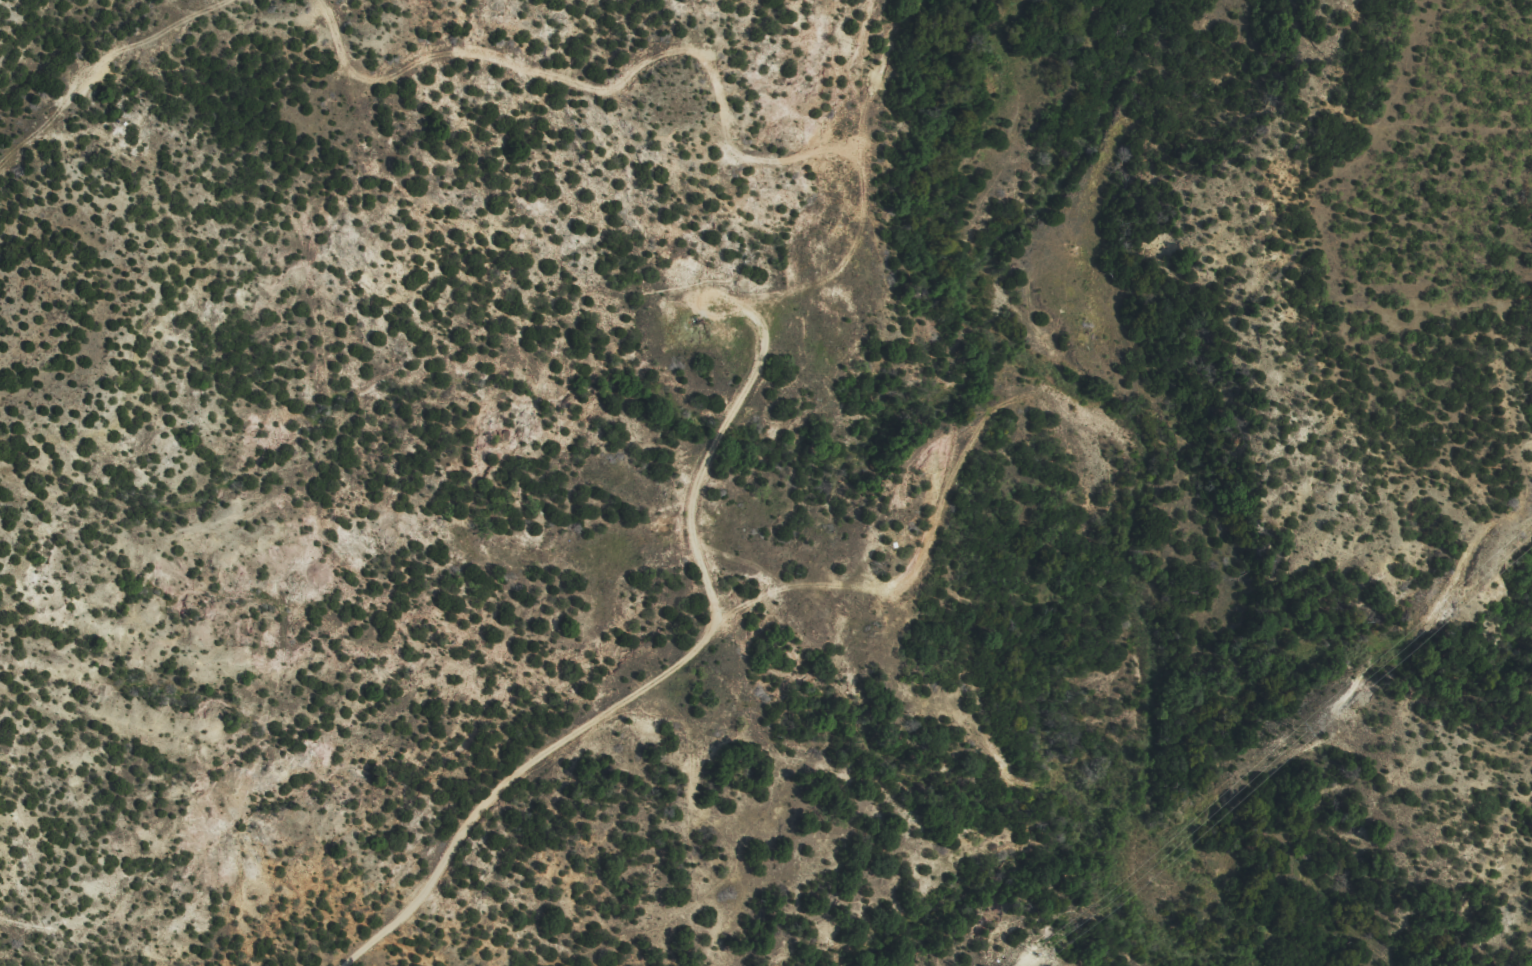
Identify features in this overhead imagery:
power tower: (1296, 730)
power tower: (1035, 954)

